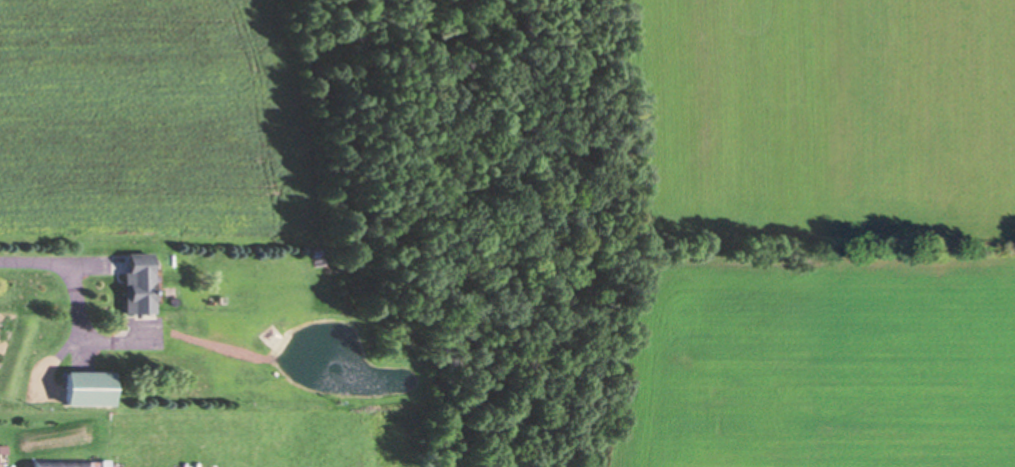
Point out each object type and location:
building: (134, 282)
building: (84, 387)
building: (56, 463)

